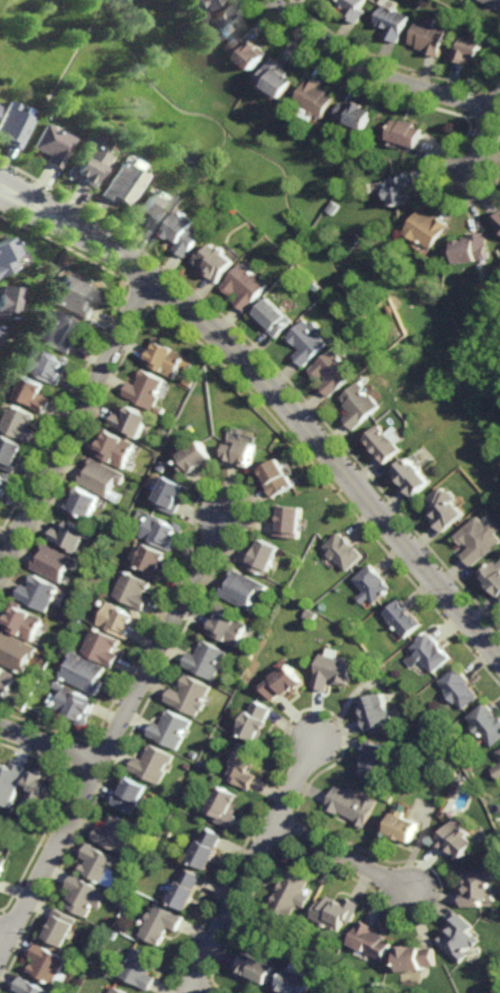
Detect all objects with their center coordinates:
building: (197, 2)
building: (495, 2)
building: (354, 8)
building: (221, 19)
building: (393, 21)
building: (429, 35)
building: (469, 47)
building: (251, 50)
road: (377, 71)
building: (280, 75)
building: (319, 97)
building: (358, 113)
building: (12, 124)
building: (407, 132)
road: (483, 140)
building: (51, 144)
building: (87, 161)
building: (121, 183)
road: (17, 188)
building: (403, 188)
road: (17, 199)
building: (151, 212)
building: (497, 221)
building: (429, 228)
building: (185, 233)
building: (473, 248)
building: (4, 256)
building: (215, 262)
building: (247, 286)
building: (76, 296)
building: (6, 302)
building: (359, 312)
building: (273, 318)
building: (0, 328)
building: (0, 330)
building: (59, 332)
building: (308, 341)
building: (167, 359)
building: (48, 366)
building: (334, 373)
building: (188, 382)
building: (145, 389)
building: (31, 393)
building: (360, 406)
road: (287, 407)
building: (132, 422)
building: (18, 423)
road: (76, 424)
building: (385, 445)
building: (116, 449)
building: (10, 454)
building: (240, 455)
building: (194, 460)
building: (101, 478)
building: (414, 479)
building: (277, 480)
building: (3, 483)
building: (171, 496)
building: (82, 504)
building: (446, 509)
building: (289, 522)
building: (162, 533)
building: (70, 537)
building: (480, 541)
building: (344, 552)
building: (262, 558)
building: (153, 563)
building: (54, 564)
building: (493, 581)
building: (372, 585)
building: (133, 591)
building: (242, 591)
building: (38, 595)
building: (402, 619)
building: (23, 621)
building: (120, 621)
building: (226, 627)
building: (102, 645)
building: (16, 651)
building: (433, 651)
building: (205, 658)
building: (337, 668)
building: (84, 671)
building: (287, 679)
building: (6, 680)
building: (59, 685)
building: (461, 686)
building: (189, 694)
building: (74, 703)
building: (379, 710)
building: (257, 719)
building: (488, 722)
building: (169, 728)
road: (113, 738)
road: (50, 745)
building: (499, 752)
building: (378, 757)
building: (152, 763)
building: (246, 764)
building: (188, 765)
building: (498, 768)
building: (10, 782)
building: (460, 785)
building: (38, 788)
building: (130, 794)
building: (169, 799)
building: (355, 803)
building: (225, 805)
building: (405, 823)
building: (118, 833)
building: (460, 839)
building: (206, 848)
road: (347, 856)
building: (2, 865)
building: (102, 866)
road: (253, 866)
building: (482, 887)
building: (186, 889)
building: (84, 895)
building: (291, 896)
building: (339, 911)
building: (160, 923)
building: (61, 927)
road: (7, 930)
building: (462, 938)
building: (373, 940)
building: (417, 958)
building: (50, 965)
building: (328, 965)
building: (256, 968)
building: (140, 969)
building: (298, 980)
building: (29, 987)
building: (119, 991)
road: (195, 991)

